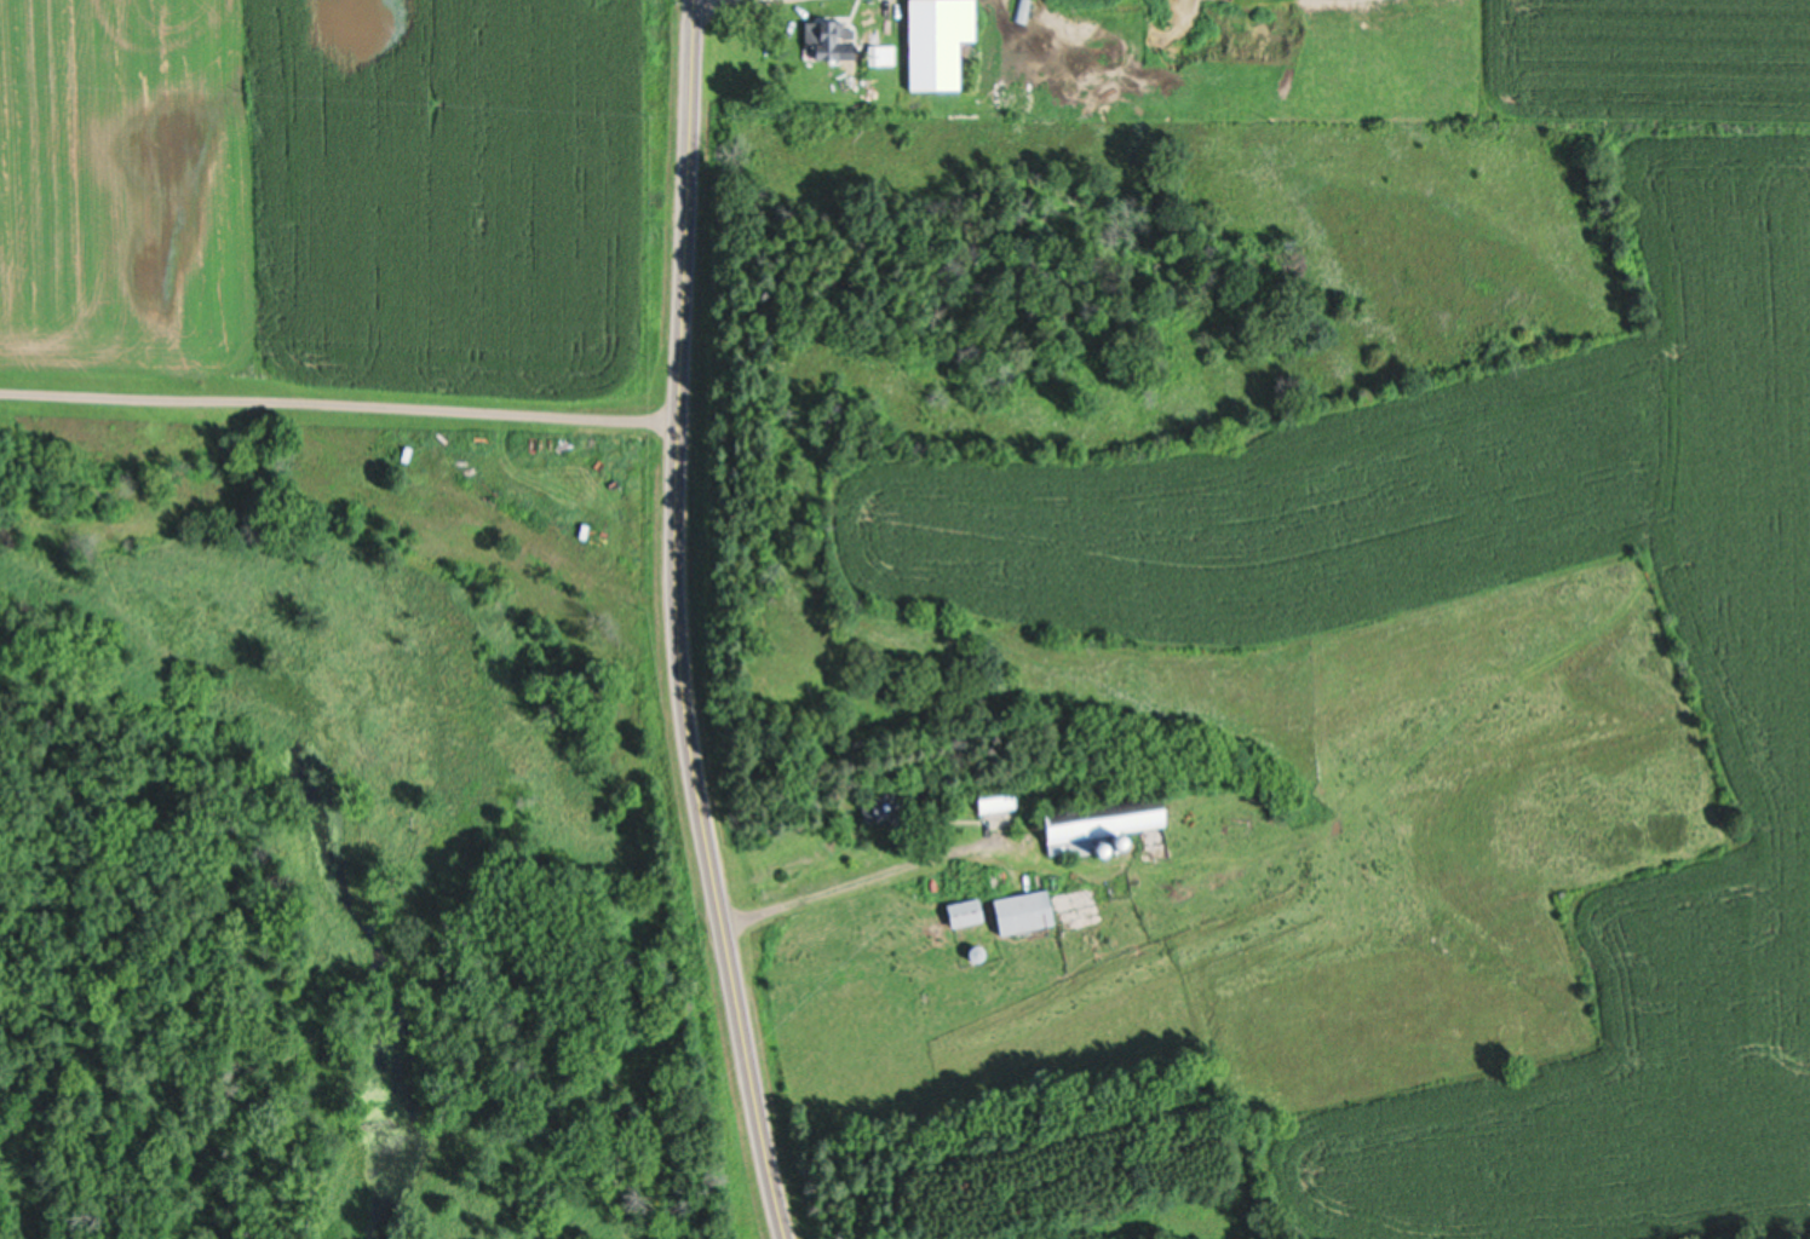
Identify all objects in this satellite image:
building: (1022, 11)
building: (824, 40)
building: (878, 54)
crop: (343, 206)
road: (337, 405)
road: (678, 623)
building: (993, 794)
building: (874, 806)
building: (1097, 817)
road: (867, 868)
building: (1071, 899)
building: (1018, 911)
building: (960, 912)

